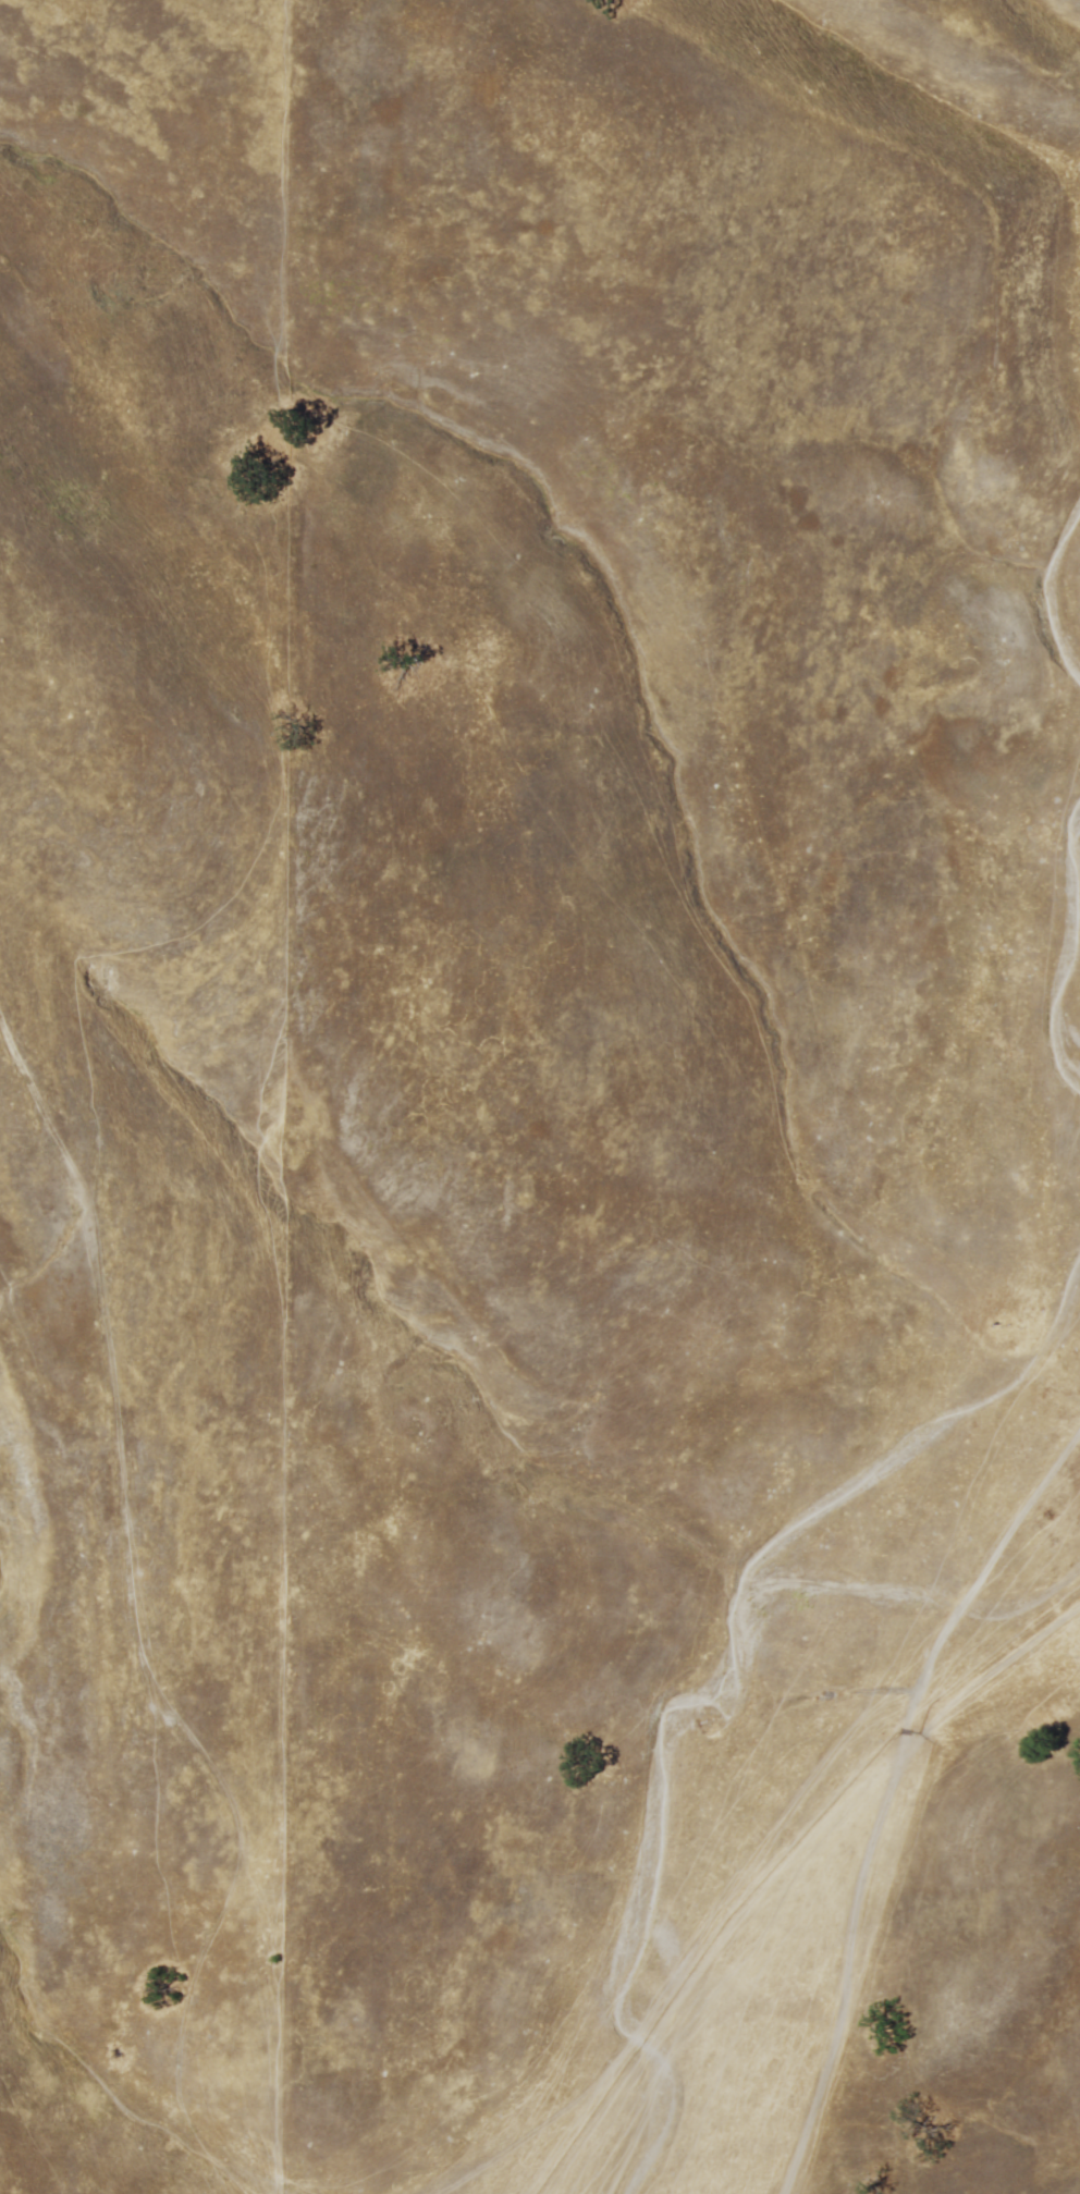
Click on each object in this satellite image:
road: (989, 1671)
road: (887, 1794)

